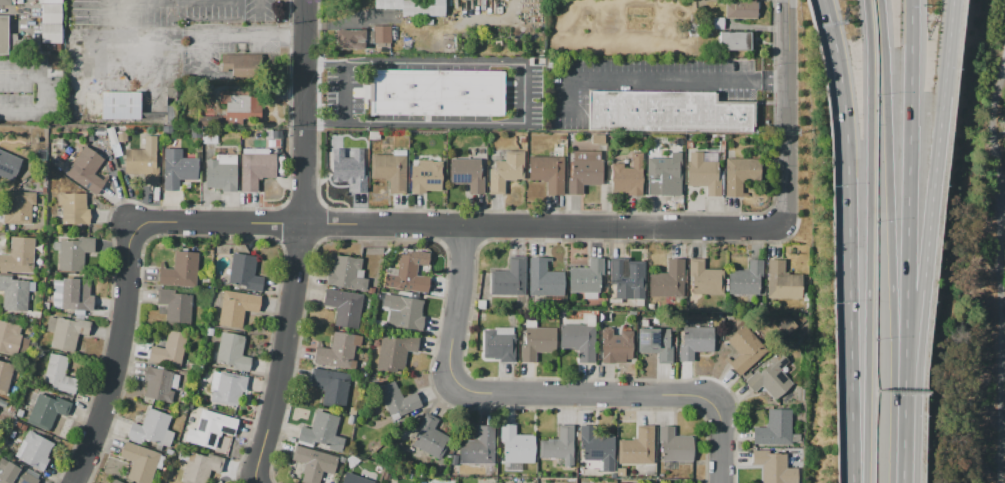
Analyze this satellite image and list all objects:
building: (5, 2)
building: (388, 4)
road: (258, 7)
building: (423, 8)
road: (16, 12)
building: (743, 13)
building: (52, 14)
building: (51, 33)
building: (4, 35)
road: (245, 35)
building: (365, 38)
building: (738, 42)
building: (244, 66)
road: (677, 80)
road: (341, 92)
road: (526, 92)
building: (439, 93)
road: (45, 95)
road: (568, 95)
building: (169, 105)
building: (122, 106)
building: (242, 109)
road: (787, 110)
road: (305, 112)
building: (670, 112)
building: (122, 133)
building: (112, 135)
building: (562, 137)
building: (570, 137)
building: (522, 140)
building: (570, 144)
building: (689, 144)
building: (524, 147)
building: (144, 160)
building: (9, 165)
building: (257, 167)
building: (178, 169)
building: (351, 170)
building: (390, 170)
building: (585, 170)
building: (86, 171)
building: (222, 172)
building: (506, 172)
building: (704, 172)
building: (548, 173)
building: (467, 174)
building: (662, 174)
building: (740, 175)
building: (426, 176)
building: (628, 176)
road: (916, 194)
road: (940, 195)
building: (19, 207)
building: (73, 208)
road: (897, 215)
road: (201, 223)
road: (542, 227)
road: (855, 240)
road: (875, 241)
building: (75, 253)
building: (19, 256)
road: (1003, 267)
building: (180, 271)
building: (245, 272)
building: (408, 272)
building: (347, 273)
building: (509, 278)
building: (587, 278)
building: (544, 279)
building: (705, 279)
building: (747, 279)
building: (668, 280)
building: (625, 281)
building: (783, 282)
building: (15, 293)
building: (76, 294)
building: (481, 304)
building: (45, 305)
building: (176, 306)
building: (345, 307)
building: (236, 308)
building: (404, 311)
building: (562, 314)
building: (66, 332)
building: (12, 339)
building: (579, 340)
building: (537, 341)
building: (695, 341)
building: (656, 343)
building: (499, 344)
building: (615, 346)
building: (169, 350)
building: (744, 350)
building: (336, 351)
building: (232, 352)
road: (283, 354)
building: (393, 354)
building: (0, 357)
road: (115, 368)
building: (59, 374)
building: (5, 375)
building: (775, 376)
building: (158, 384)
building: (332, 386)
building: (229, 389)
road: (506, 393)
building: (397, 400)
building: (47, 410)
building: (352, 410)
road: (905, 410)
building: (19, 412)
building: (350, 420)
building: (152, 428)
building: (210, 428)
building: (776, 429)
building: (322, 432)
building: (430, 437)
road: (719, 442)
building: (517, 443)
building: (675, 445)
building: (481, 446)
building: (559, 446)
building: (637, 446)
building: (598, 448)
building: (34, 450)
road: (903, 457)
building: (140, 462)
building: (314, 463)
building: (201, 467)
building: (775, 467)
building: (621, 472)
building: (14, 473)
building: (613, 476)
building: (354, 478)
building: (115, 481)

